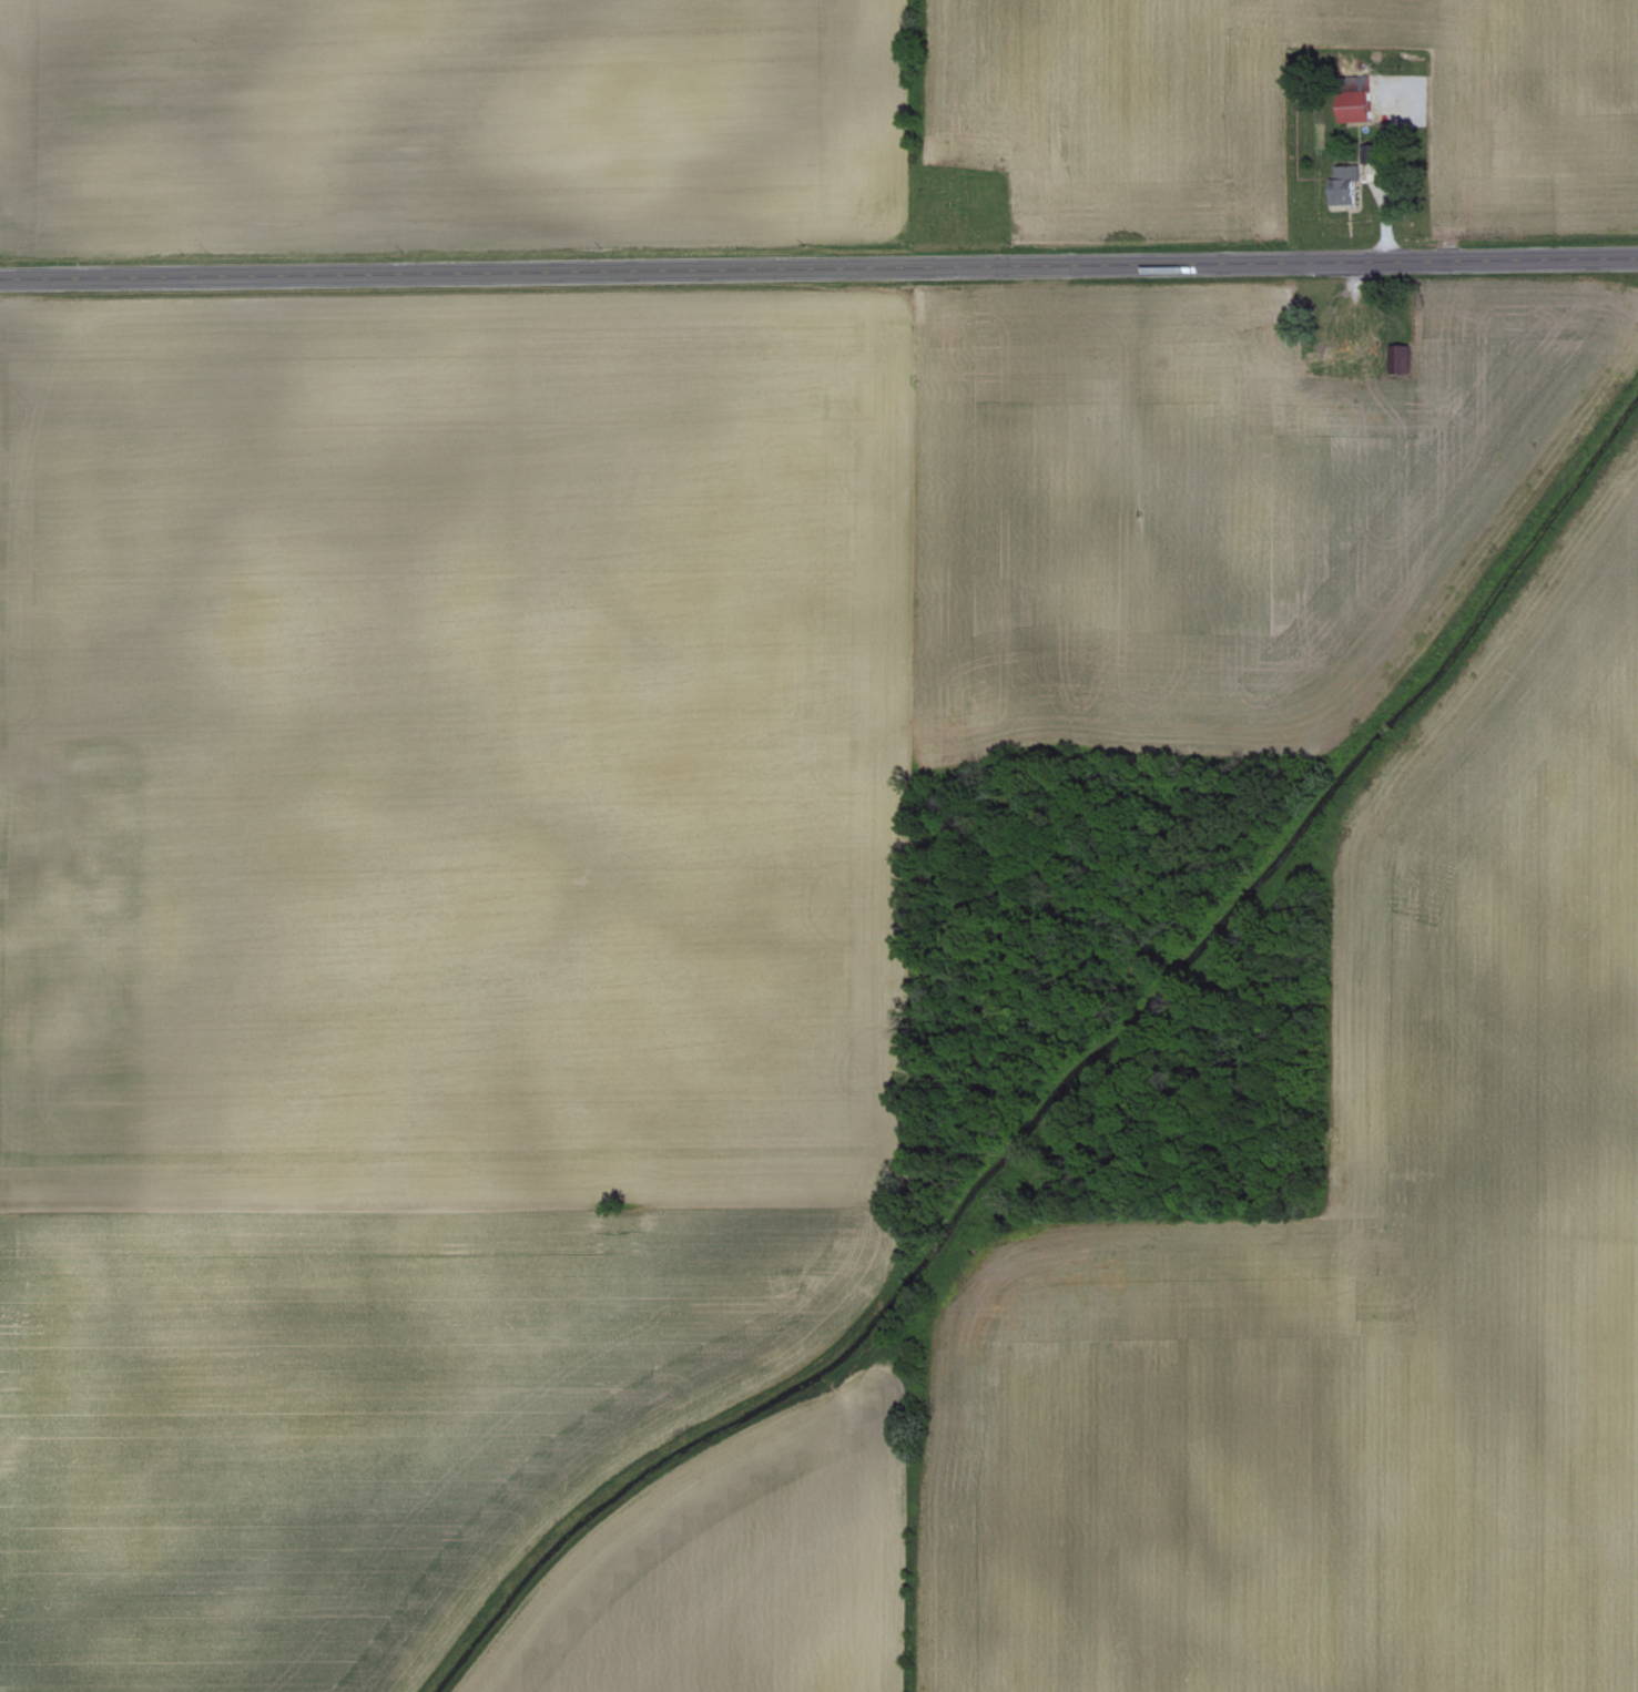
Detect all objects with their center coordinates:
building: (1352, 99)
building: (1344, 186)
road: (818, 267)

